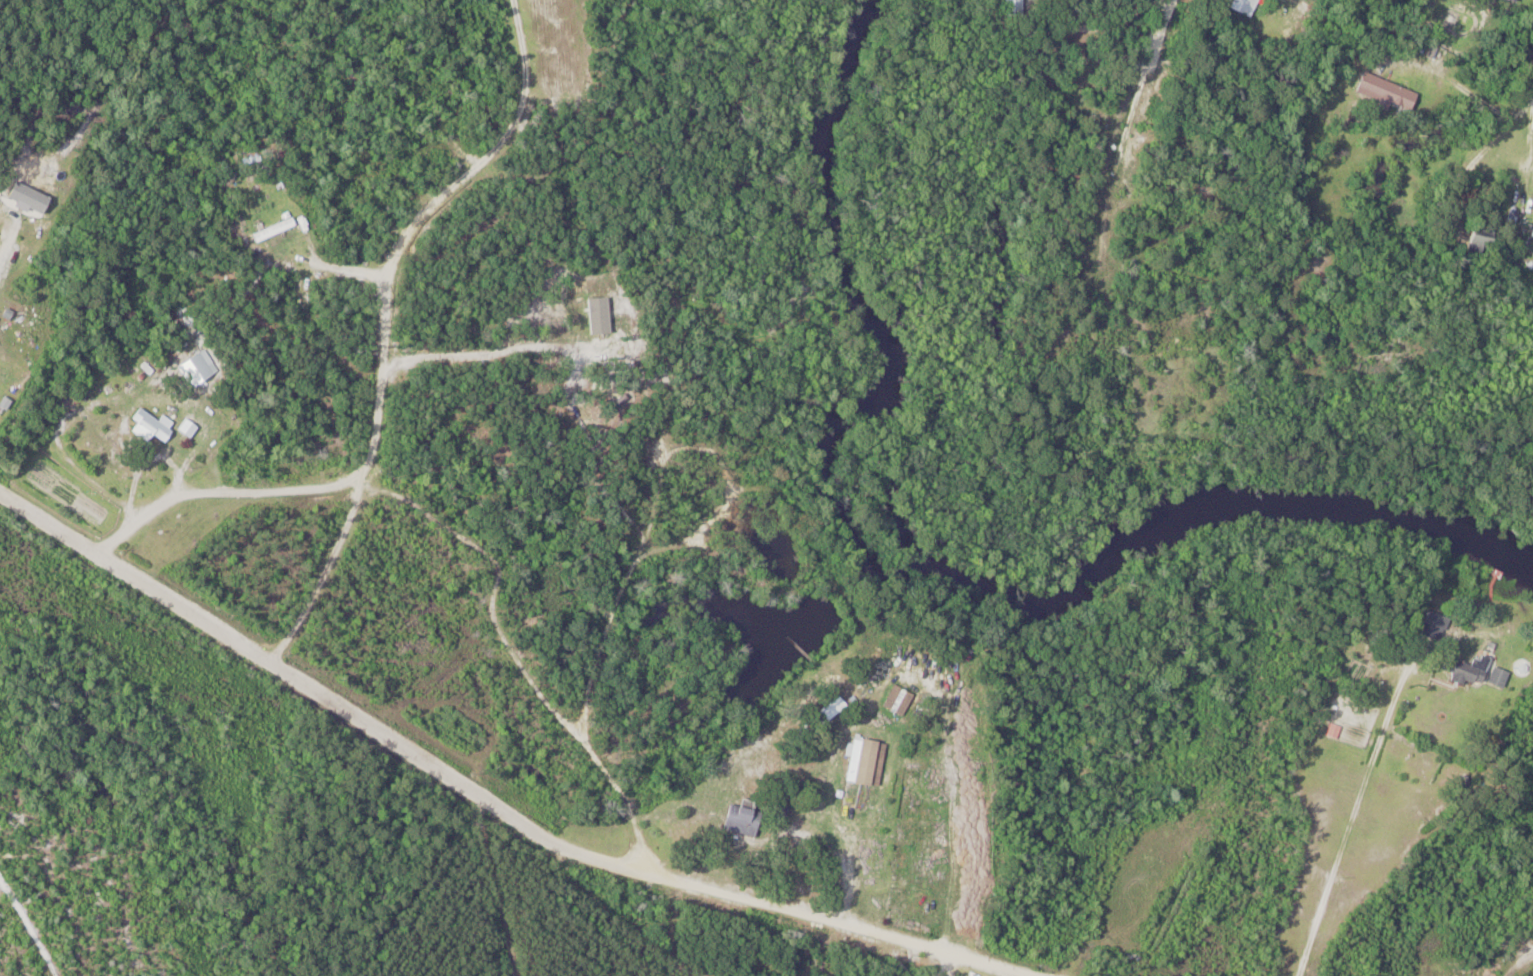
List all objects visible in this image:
building: (1506, 2)
building: (1238, 6)
building: (1011, 8)
road: (1058, 33)
building: (1384, 92)
road: (1518, 113)
road: (1118, 135)
building: (272, 230)
building: (1475, 238)
building: (8, 239)
road: (3, 272)
road: (385, 357)
building: (195, 369)
building: (186, 428)
building: (147, 429)
road: (326, 574)
building: (1429, 624)
building: (1463, 668)
building: (1495, 677)
building: (893, 700)
building: (864, 762)
road: (491, 803)
building: (740, 817)
road: (1347, 825)
road: (853, 863)
road: (1500, 943)

